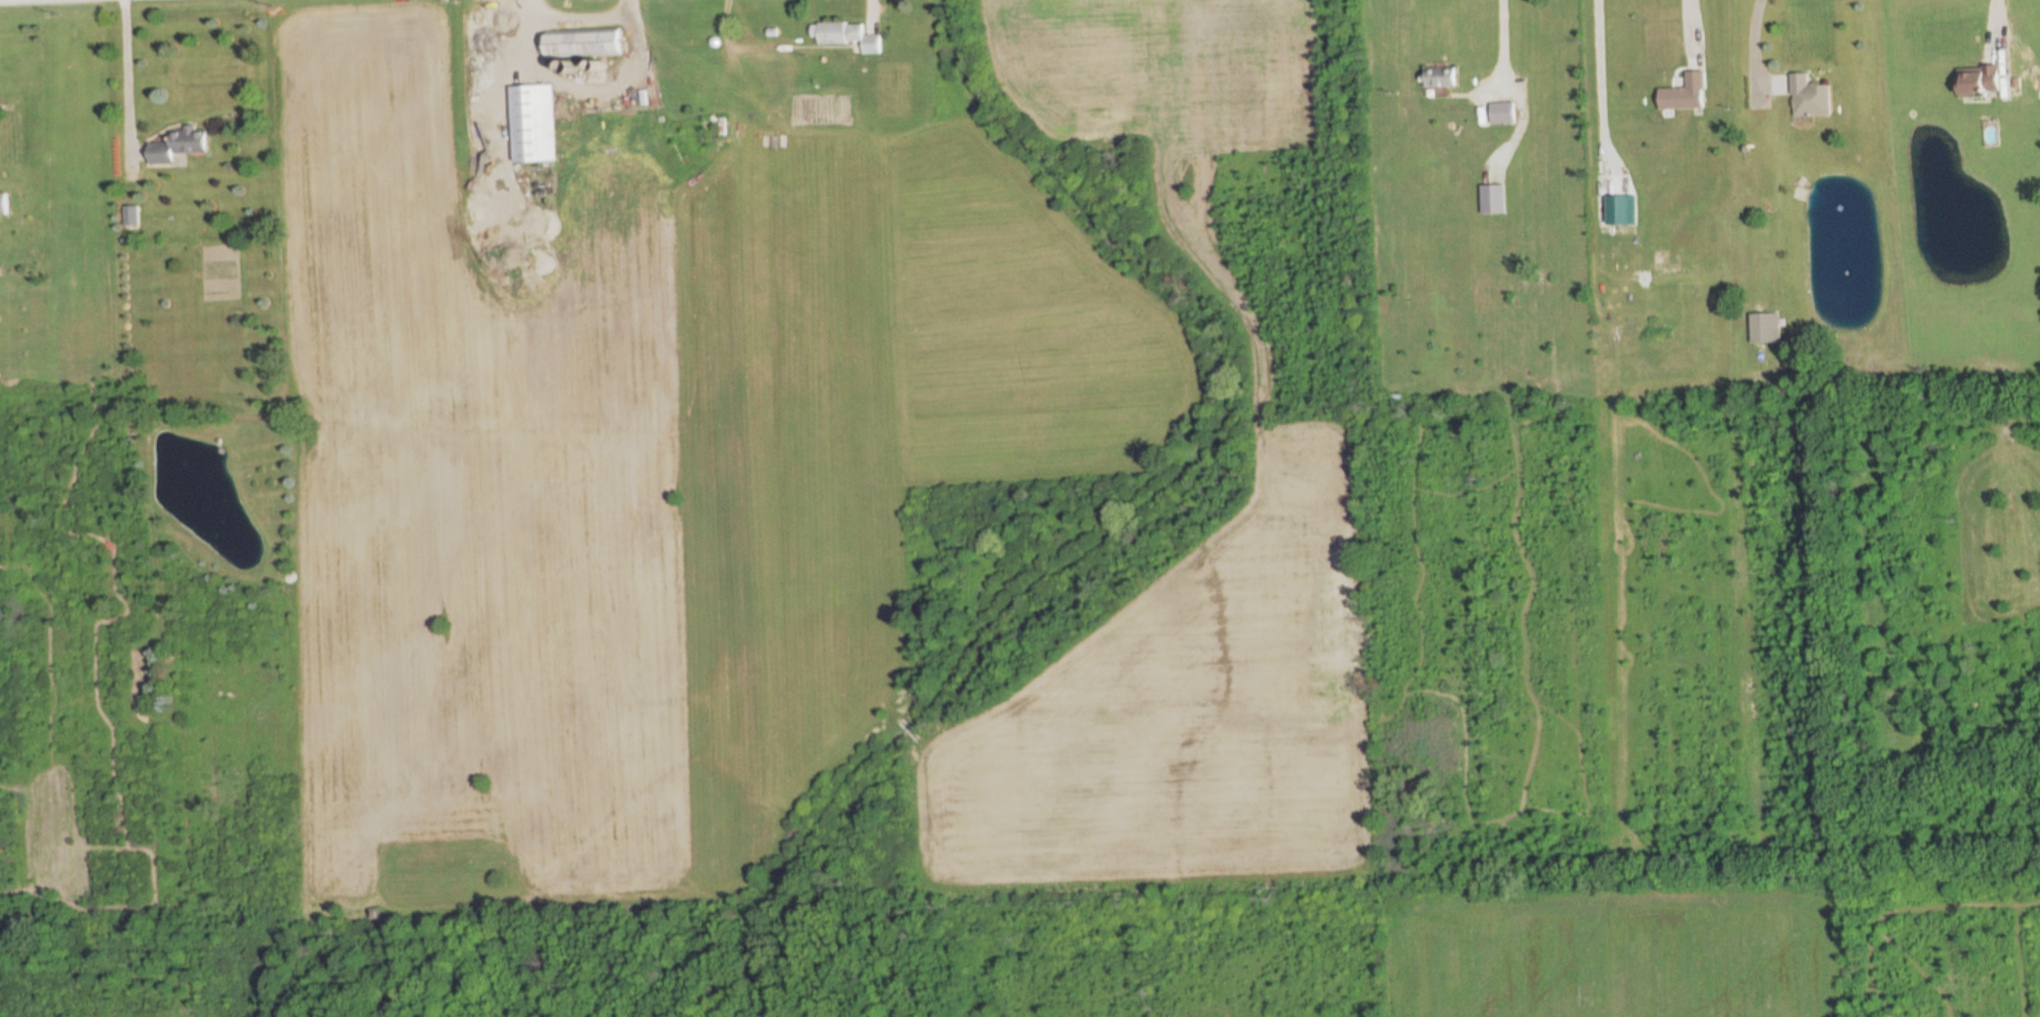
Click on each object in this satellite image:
road: (577, 12)
road: (1995, 20)
road: (1689, 22)
building: (848, 36)
road: (1498, 42)
building: (584, 43)
road: (1753, 45)
building: (1441, 78)
building: (1981, 80)
road: (126, 82)
building: (1686, 94)
building: (1810, 96)
building: (1503, 113)
building: (533, 123)
building: (180, 146)
building: (1493, 198)
building: (4, 205)
building: (1764, 327)

